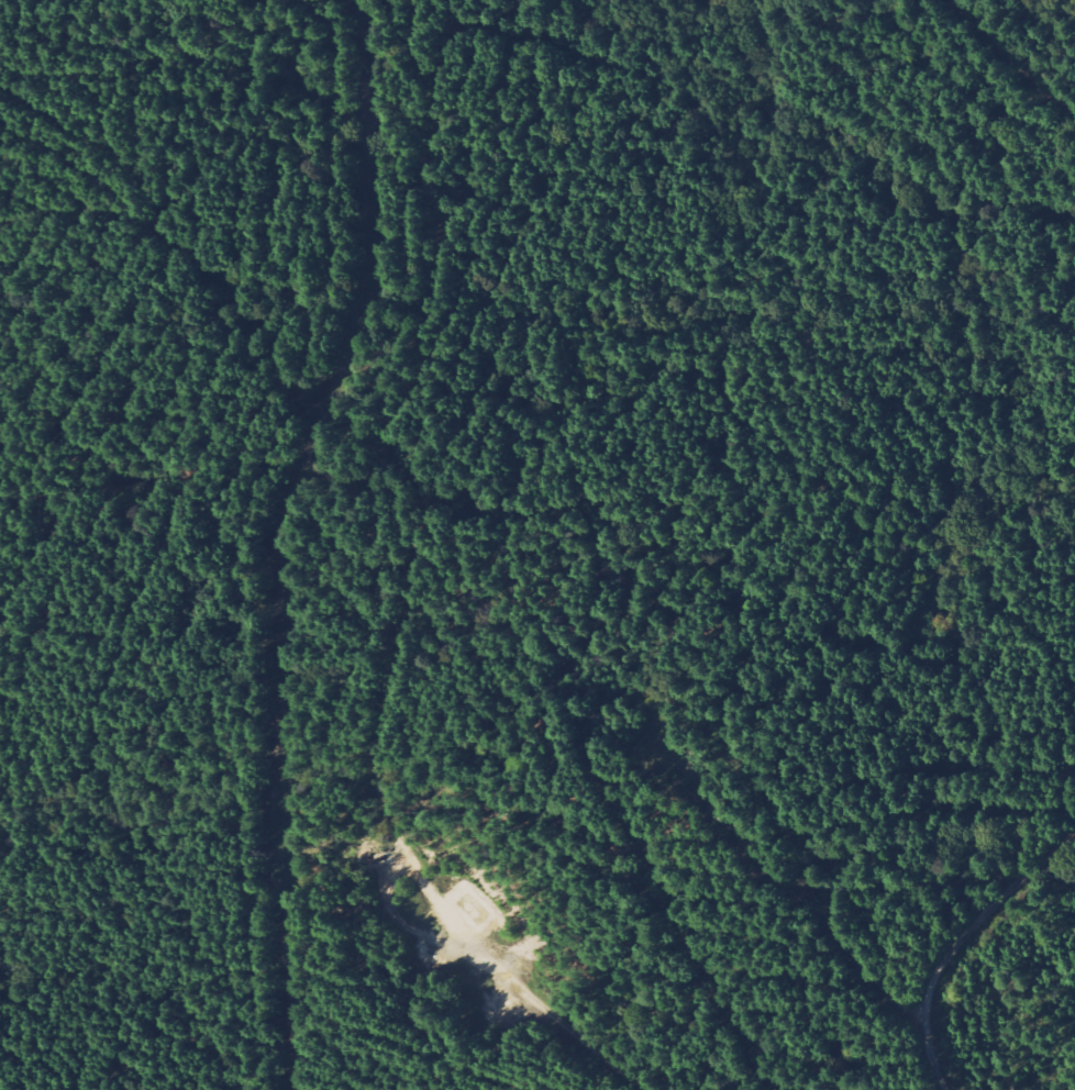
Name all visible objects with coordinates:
road: (390, 879)
road: (554, 1020)

